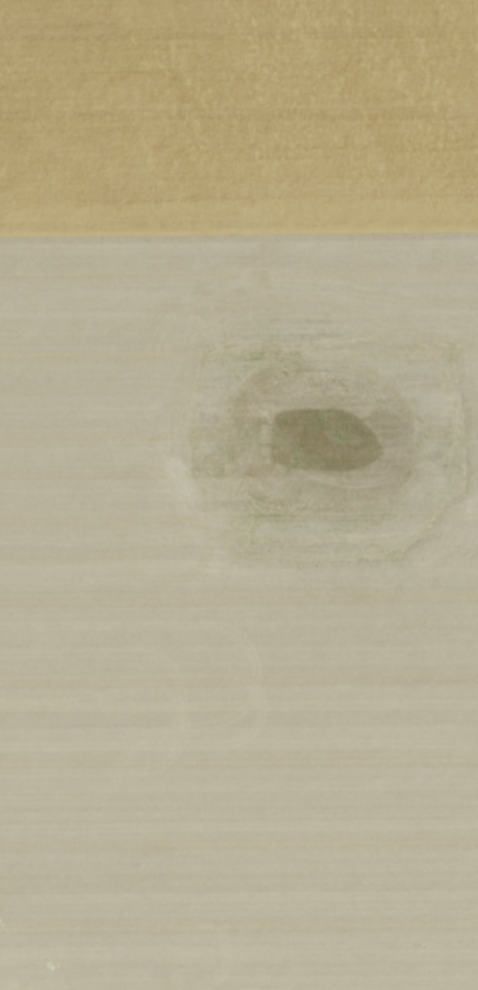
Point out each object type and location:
crop: (239, 495)

